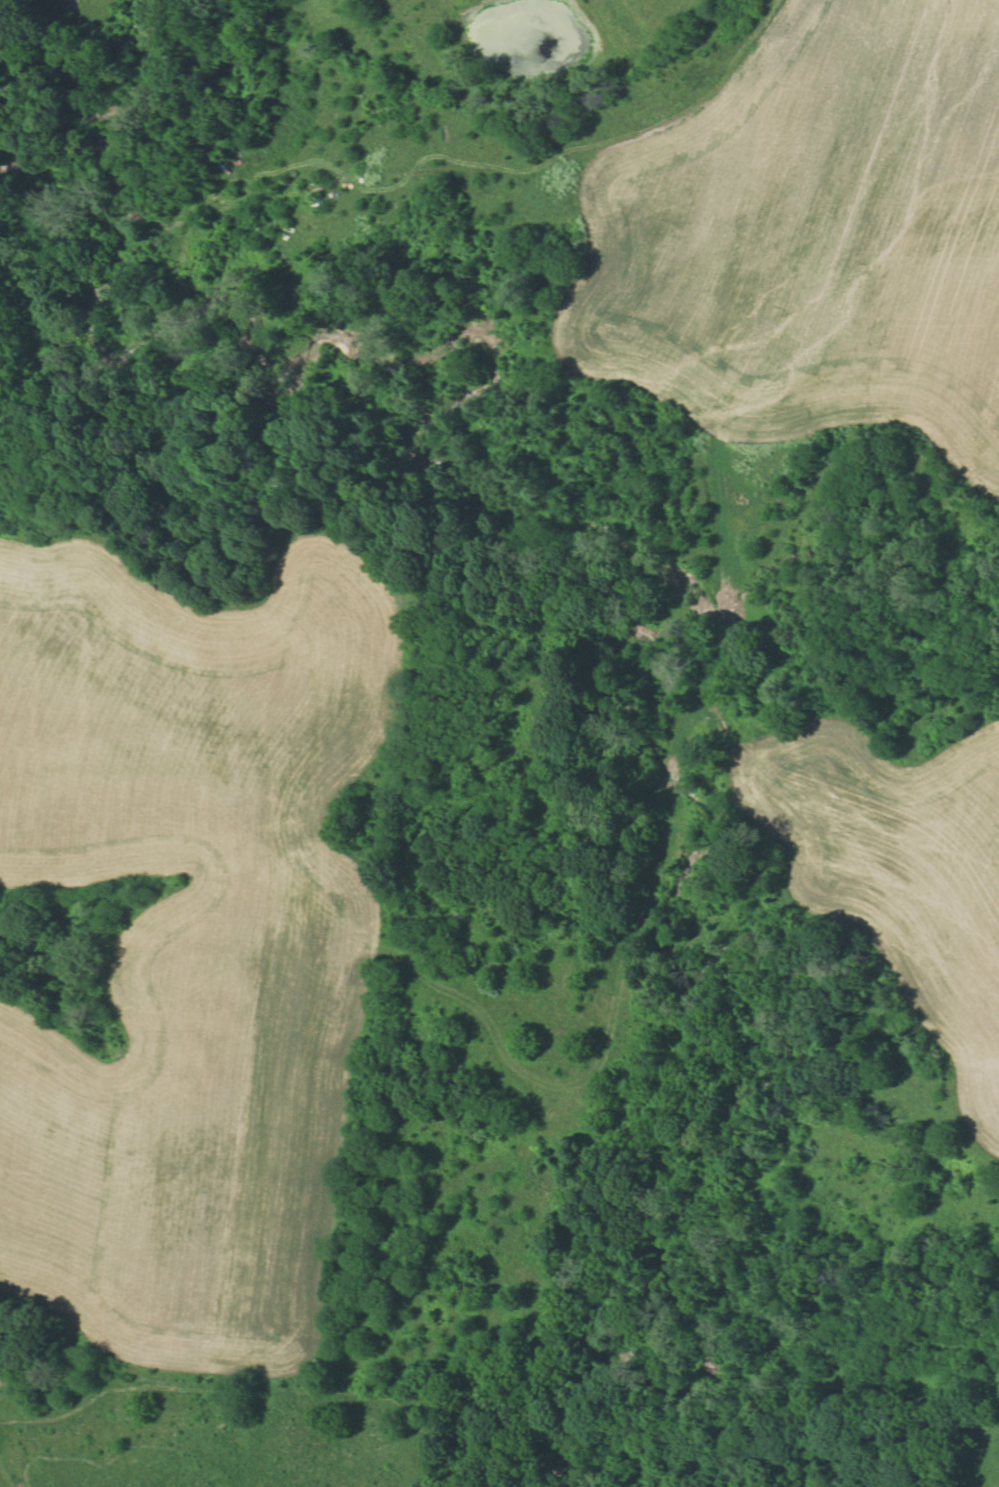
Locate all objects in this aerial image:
crop: (816, 238)
crop: (902, 871)
crop: (190, 944)
crop: (226, 1429)
crop: (982, 1452)

